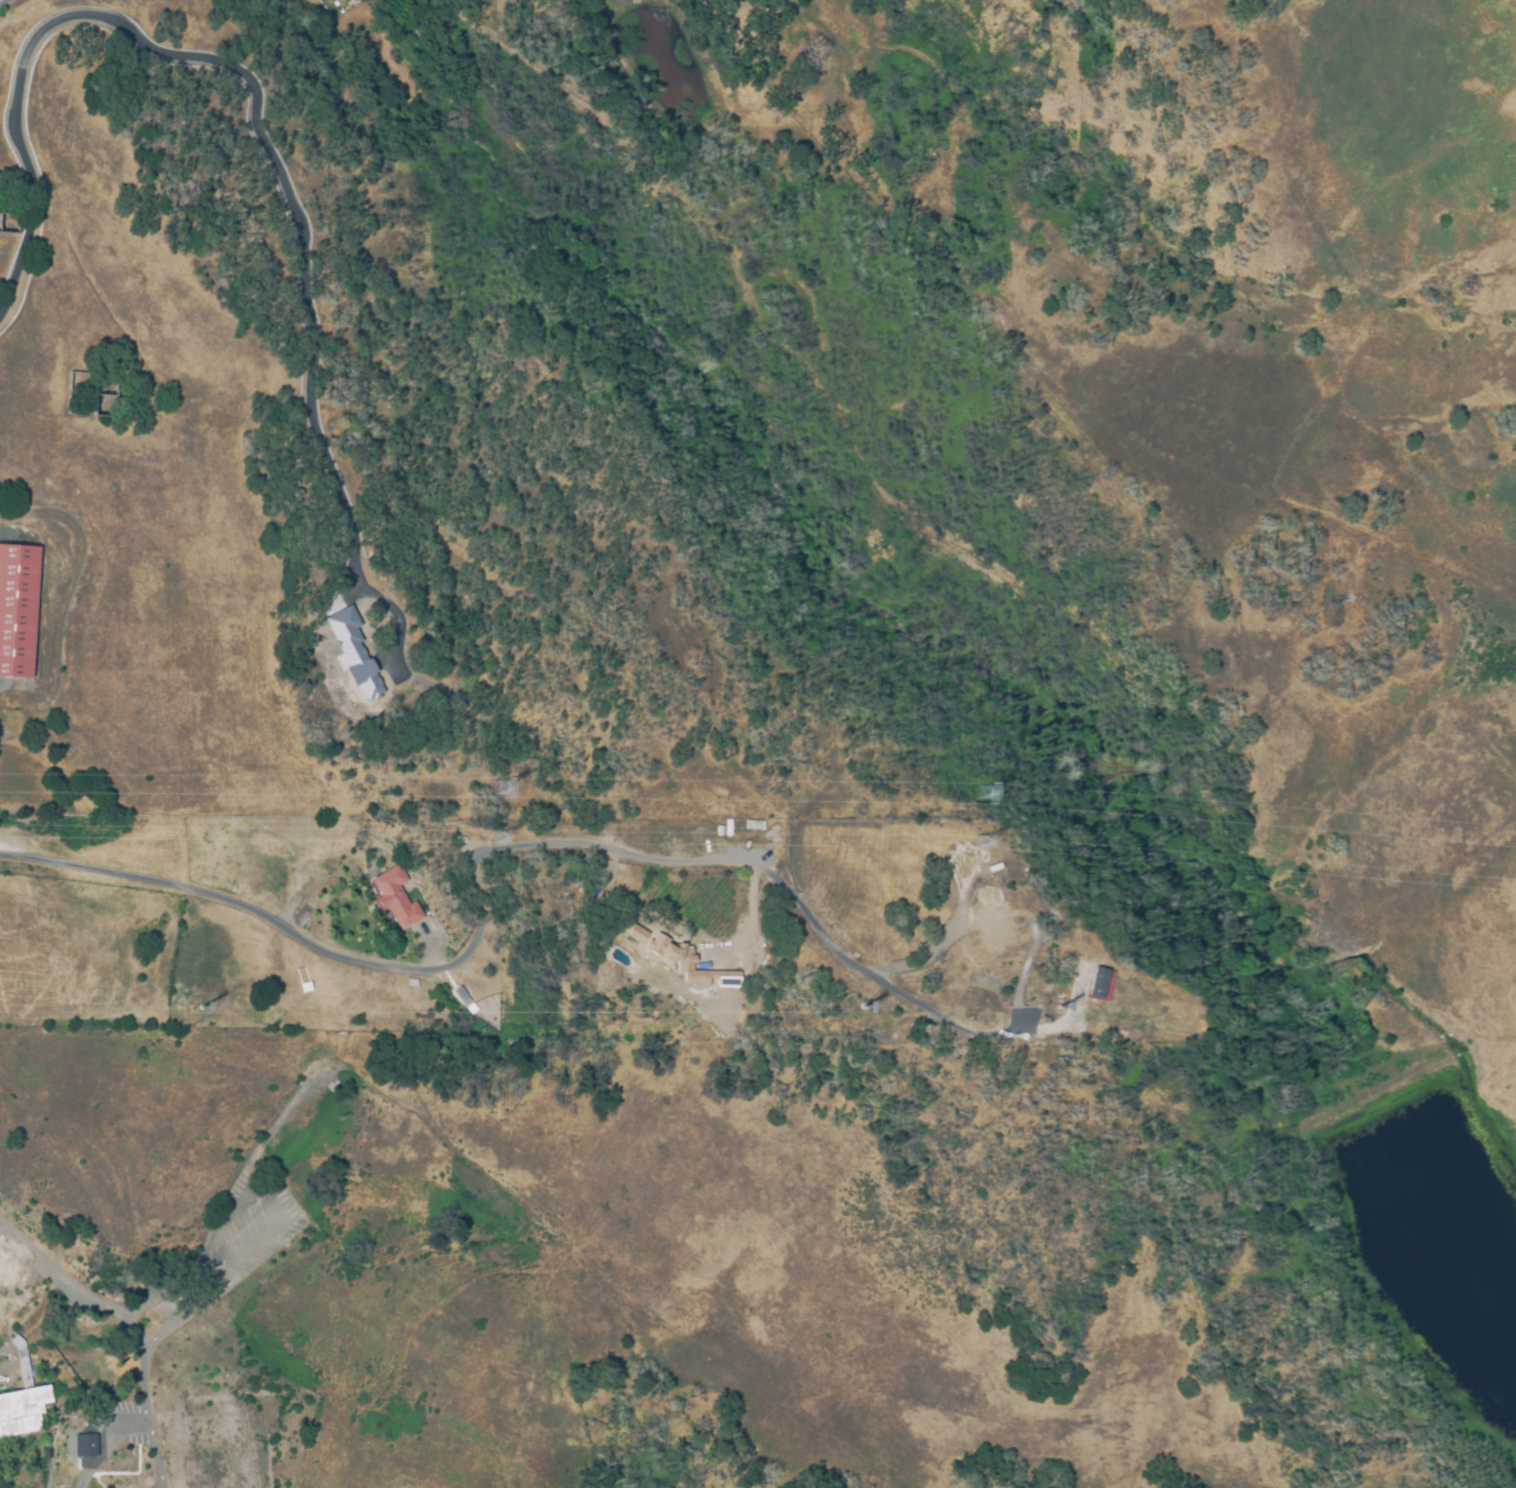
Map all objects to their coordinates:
road: (255, 106)
building: (10, 224)
building: (18, 609)
building: (353, 652)
power tower: (495, 788)
power tower: (979, 794)
building: (753, 824)
power tower: (976, 843)
power tower: (506, 849)
power tower: (508, 856)
building: (397, 896)
road: (479, 923)
building: (642, 937)
road: (940, 942)
building: (1099, 982)
building: (282, 990)
building: (460, 995)
building: (730, 1019)
road: (954, 1026)
road: (273, 1226)
road: (223, 1250)
road: (179, 1268)
road: (71, 1283)
road: (154, 1339)
road: (143, 1396)
building: (23, 1400)
parking lot: (116, 1419)
road: (126, 1419)
building: (83, 1444)

